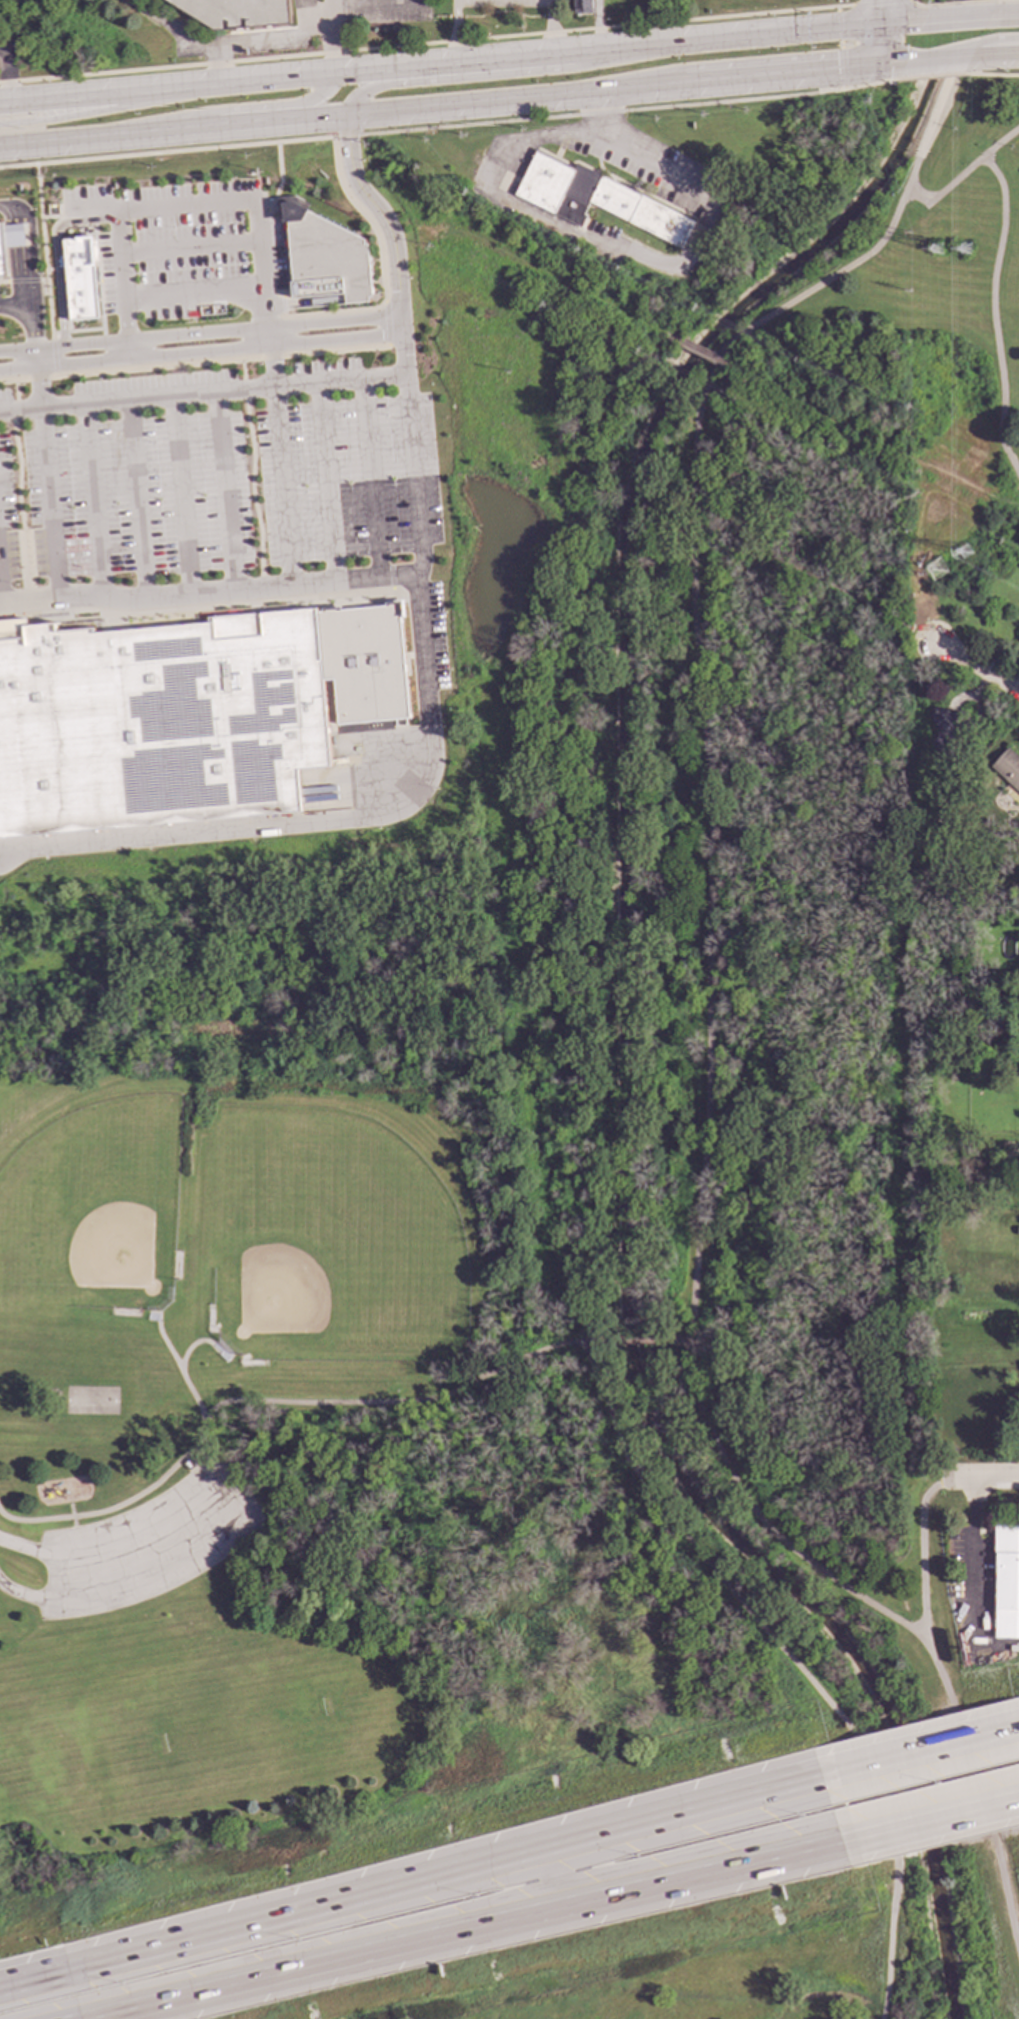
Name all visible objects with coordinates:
road: (873, 2)
road: (962, 2)
building: (301, 4)
parking lot: (502, 5)
road: (919, 5)
park: (1008, 5)
building: (582, 6)
building: (237, 12)
road: (1004, 15)
park: (499, 16)
road: (956, 18)
road: (702, 19)
traffic signals: (920, 21)
road: (169, 26)
road: (550, 26)
road: (455, 30)
road: (877, 33)
road: (271, 35)
road: (328, 35)
road: (2, 43)
road: (840, 47)
road: (993, 55)
road: (275, 56)
road: (461, 60)
road: (216, 61)
road: (935, 61)
traffic signals: (836, 71)
road: (6, 73)
road: (507, 73)
road: (991, 74)
road: (932, 76)
road: (940, 92)
road: (505, 99)
road: (103, 109)
road: (225, 110)
road: (450, 126)
road: (54, 139)
road: (1000, 143)
road: (277, 184)
building: (553, 185)
road: (943, 191)
road: (93, 203)
road: (184, 203)
building: (637, 210)
road: (55, 217)
road: (31, 230)
building: (10, 242)
road: (43, 248)
power tower: (939, 251)
road: (285, 252)
power tower: (965, 252)
road: (625, 254)
road: (55, 256)
park: (969, 256)
building: (326, 257)
road: (381, 264)
road: (533, 266)
building: (81, 278)
road: (24, 280)
road: (4, 281)
road: (42, 289)
road: (193, 292)
road: (17, 305)
road: (265, 306)
road: (282, 306)
road: (34, 313)
road: (993, 316)
road: (125, 320)
road: (385, 323)
road: (76, 330)
road: (200, 334)
road: (128, 350)
road: (53, 353)
road: (201, 353)
road: (193, 363)
road: (243, 369)
road: (15, 390)
road: (245, 390)
road: (14, 410)
road: (870, 438)
road: (281, 454)
road: (47, 476)
road: (251, 488)
road: (18, 504)
park: (942, 554)
power tower: (963, 554)
power tower: (936, 572)
road: (817, 579)
road: (262, 588)
road: (210, 591)
road: (28, 602)
road: (196, 607)
building: (1018, 640)
road: (421, 661)
building: (367, 665)
road: (976, 667)
building: (159, 721)
building: (945, 727)
building: (1007, 767)
road: (707, 915)
park: (510, 1163)
park: (95, 1209)
park: (333, 1243)
building: (971, 1313)
road: (630, 1340)
road: (587, 1341)
road: (676, 1341)
park: (95, 1401)
road: (380, 1403)
road: (205, 1464)
road: (975, 1476)
road: (240, 1508)
road: (105, 1511)
parking lot: (149, 1544)
road: (970, 1544)
road: (921, 1557)
building: (1007, 1580)
park: (925, 1596)
road: (791, 1662)
park: (213, 1729)
road: (920, 1749)
road: (979, 1792)
road: (931, 1821)
road: (557, 1877)
road: (411, 1881)
road: (470, 1929)
park: (960, 1952)
park: (748, 1981)

